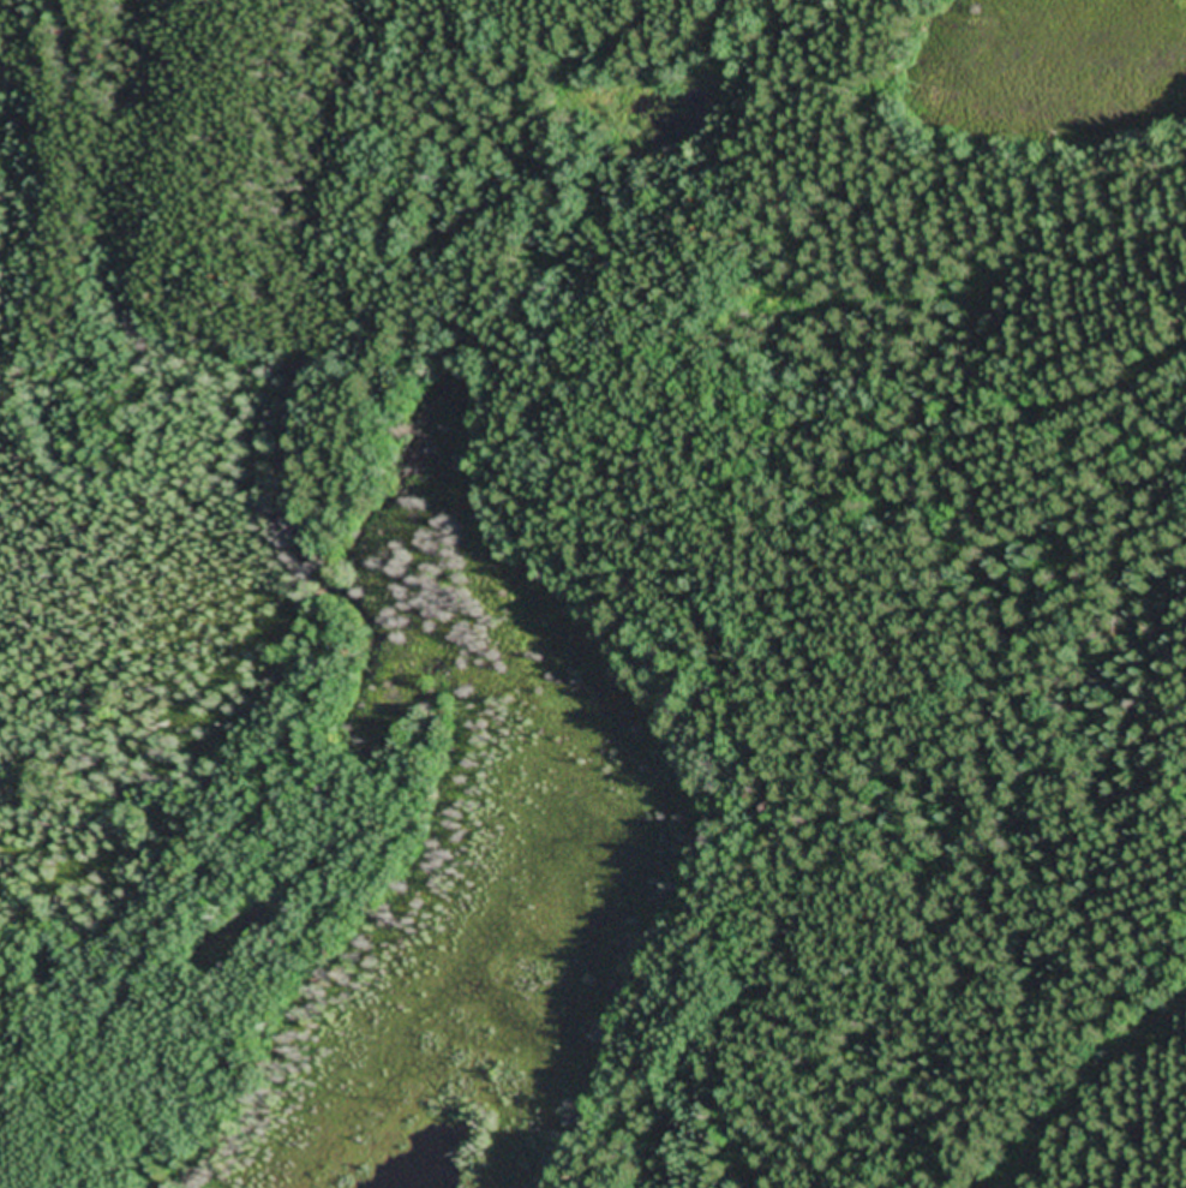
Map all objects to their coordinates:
road: (1050, 1070)

